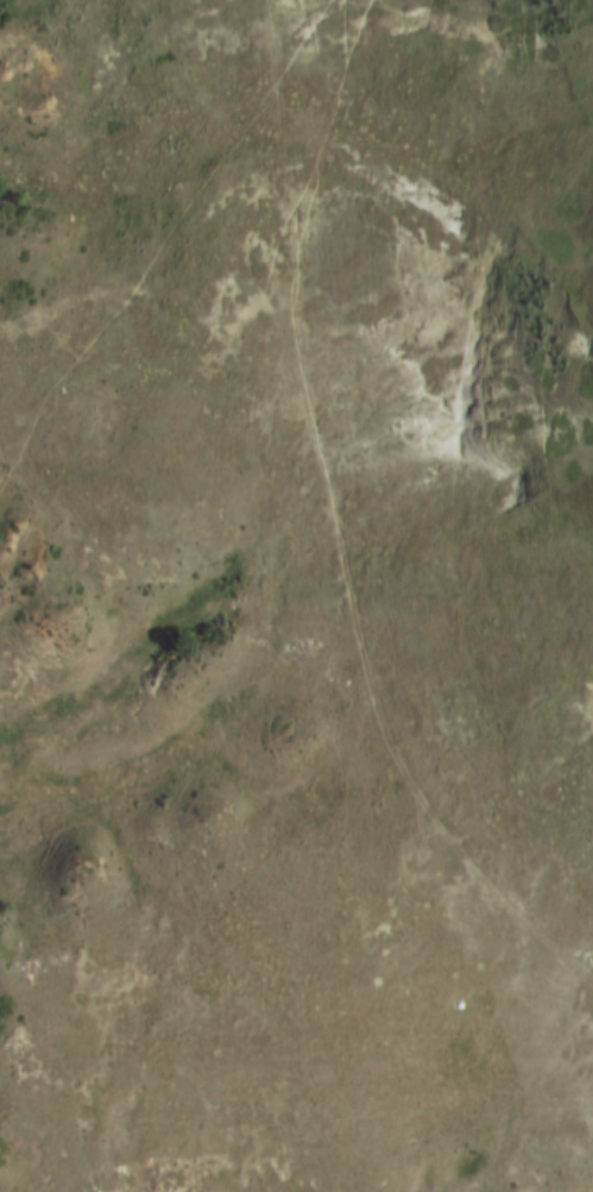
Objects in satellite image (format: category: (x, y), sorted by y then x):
road: (334, 532)
building: (273, 859)

